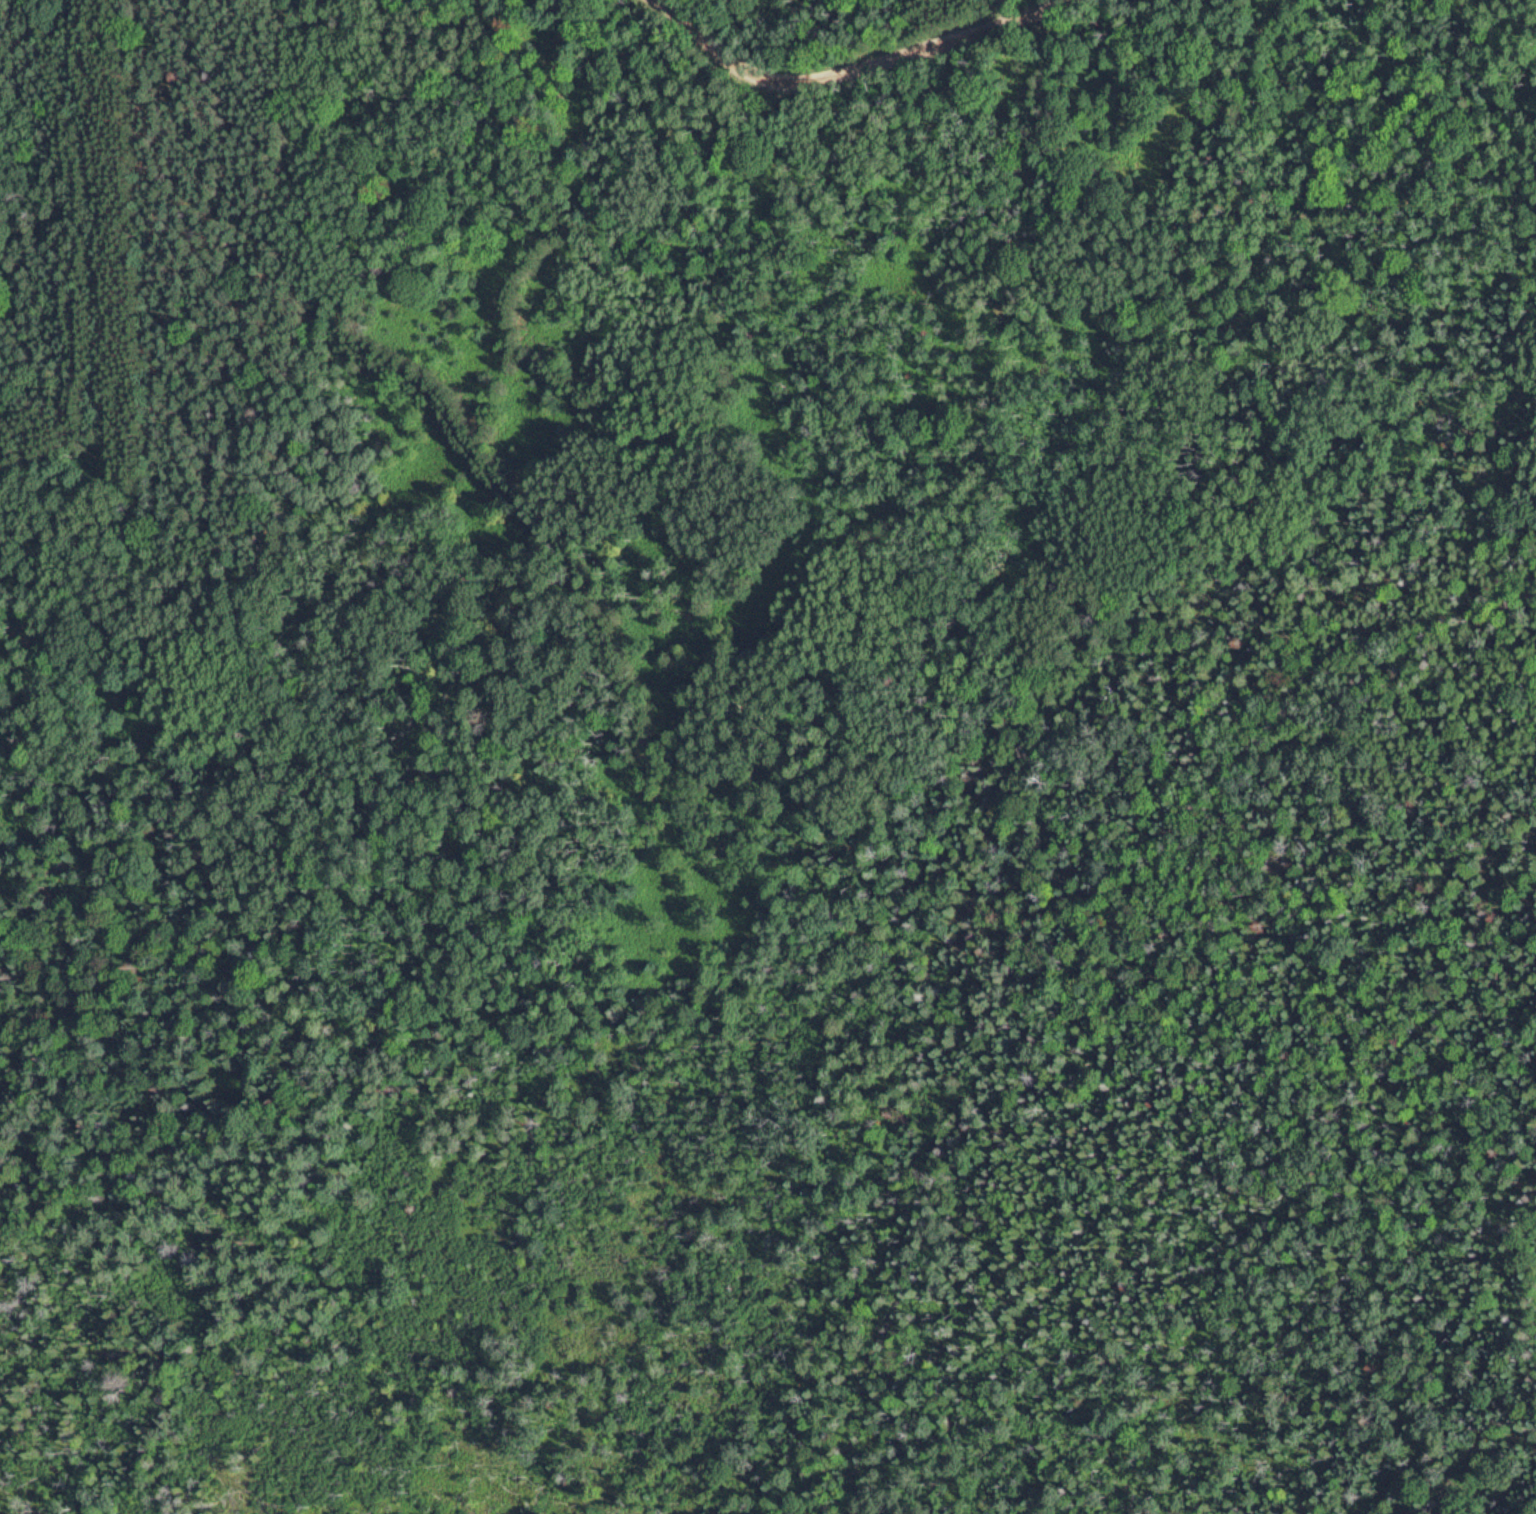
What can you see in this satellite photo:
road: (850, 68)

